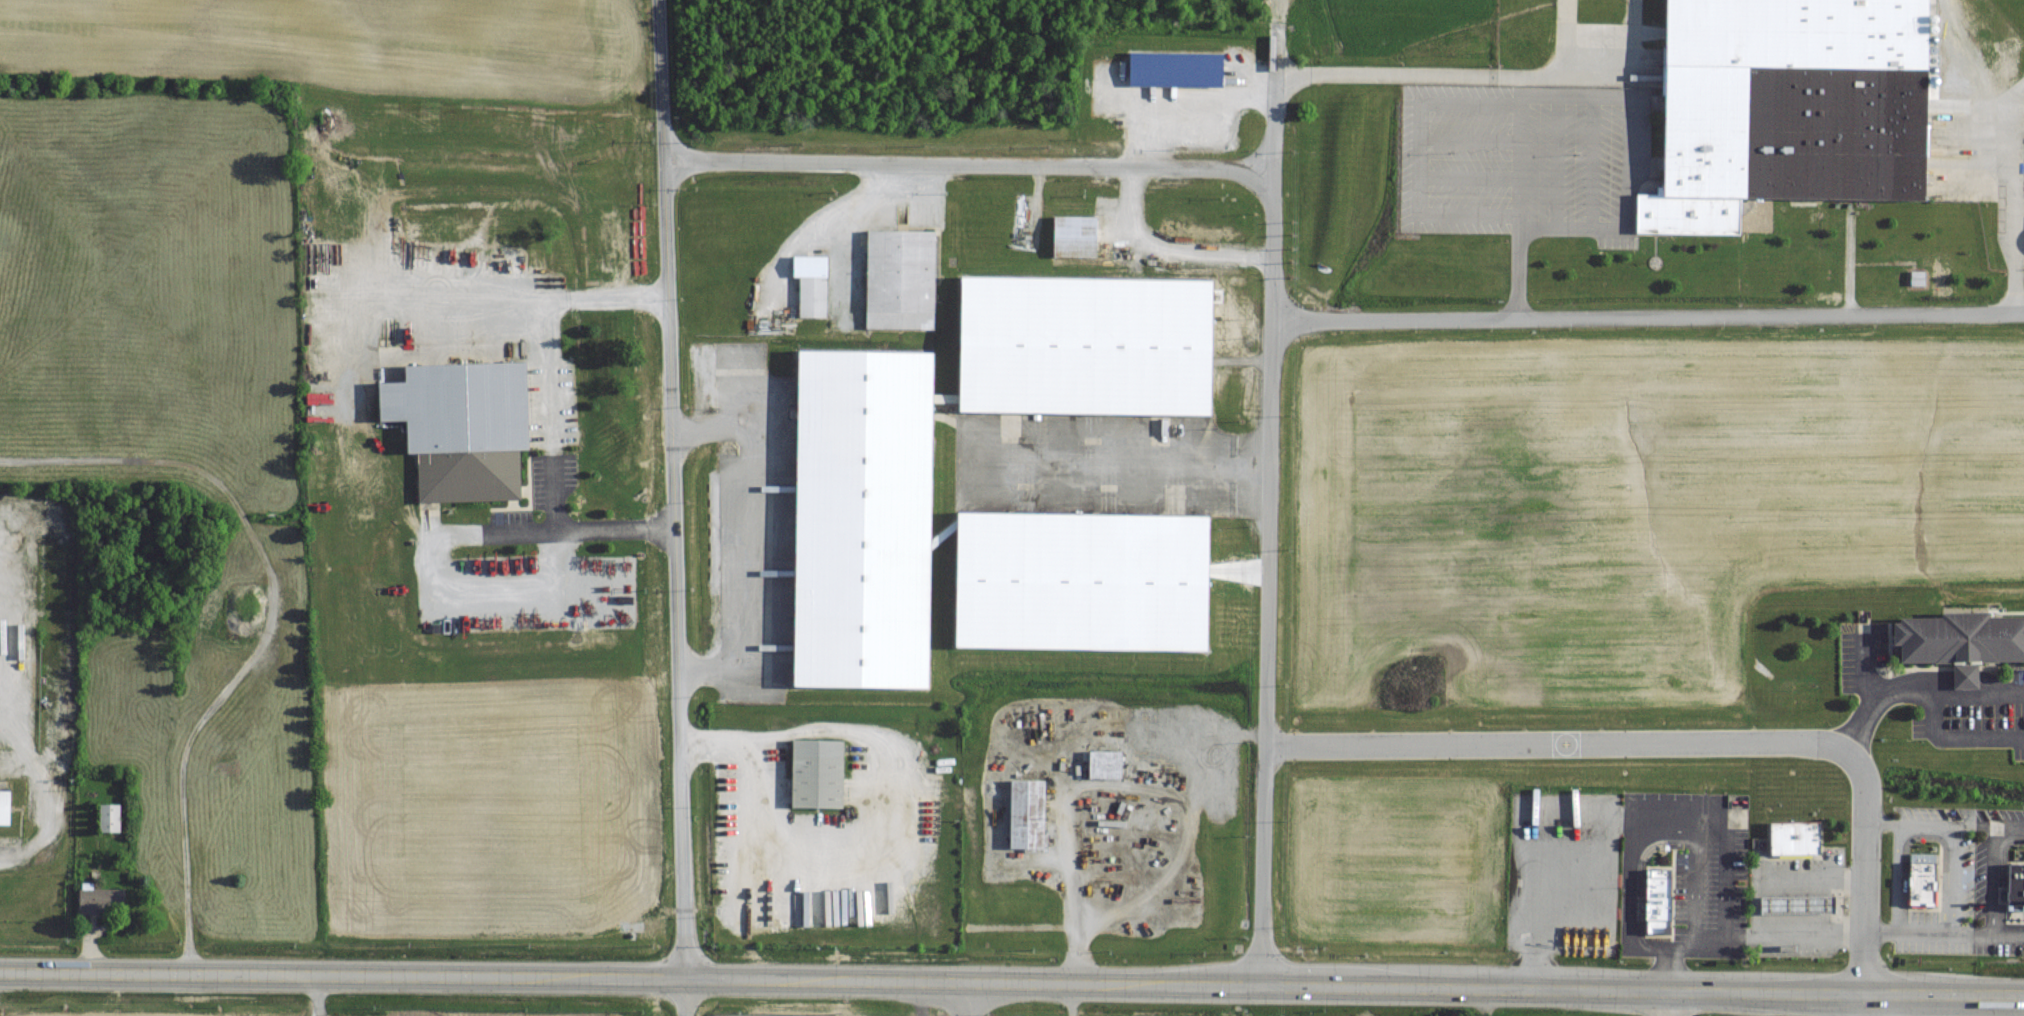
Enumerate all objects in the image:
road: (1563, 54)
road: (1627, 63)
building: (1172, 69)
road: (1520, 77)
building: (1784, 106)
road: (1468, 140)
road: (2004, 150)
road: (1416, 156)
road: (971, 163)
road: (1467, 179)
building: (1071, 238)
road: (1167, 251)
building: (898, 280)
building: (809, 283)
road: (611, 296)
road: (1648, 317)
building: (459, 426)
road: (1124, 458)
building: (859, 462)
road: (1271, 503)
road: (677, 507)
road: (738, 545)
road: (9, 551)
road: (553, 568)
road: (269, 624)
building: (1957, 637)
road: (1915, 686)
road: (1857, 723)
road: (1953, 741)
road: (1694, 743)
road: (1069, 760)
building: (1102, 764)
building: (813, 772)
road: (59, 792)
building: (3, 807)
building: (1023, 813)
building: (107, 816)
road: (1704, 822)
road: (1945, 823)
building: (1792, 837)
road: (1897, 875)
road: (1953, 877)
road: (1990, 878)
building: (1920, 879)
building: (2014, 885)
building: (1656, 899)
building: (100, 901)
road: (1752, 904)
road: (1944, 930)
road: (1012, 980)
road: (959, 998)
road: (1662, 1003)

